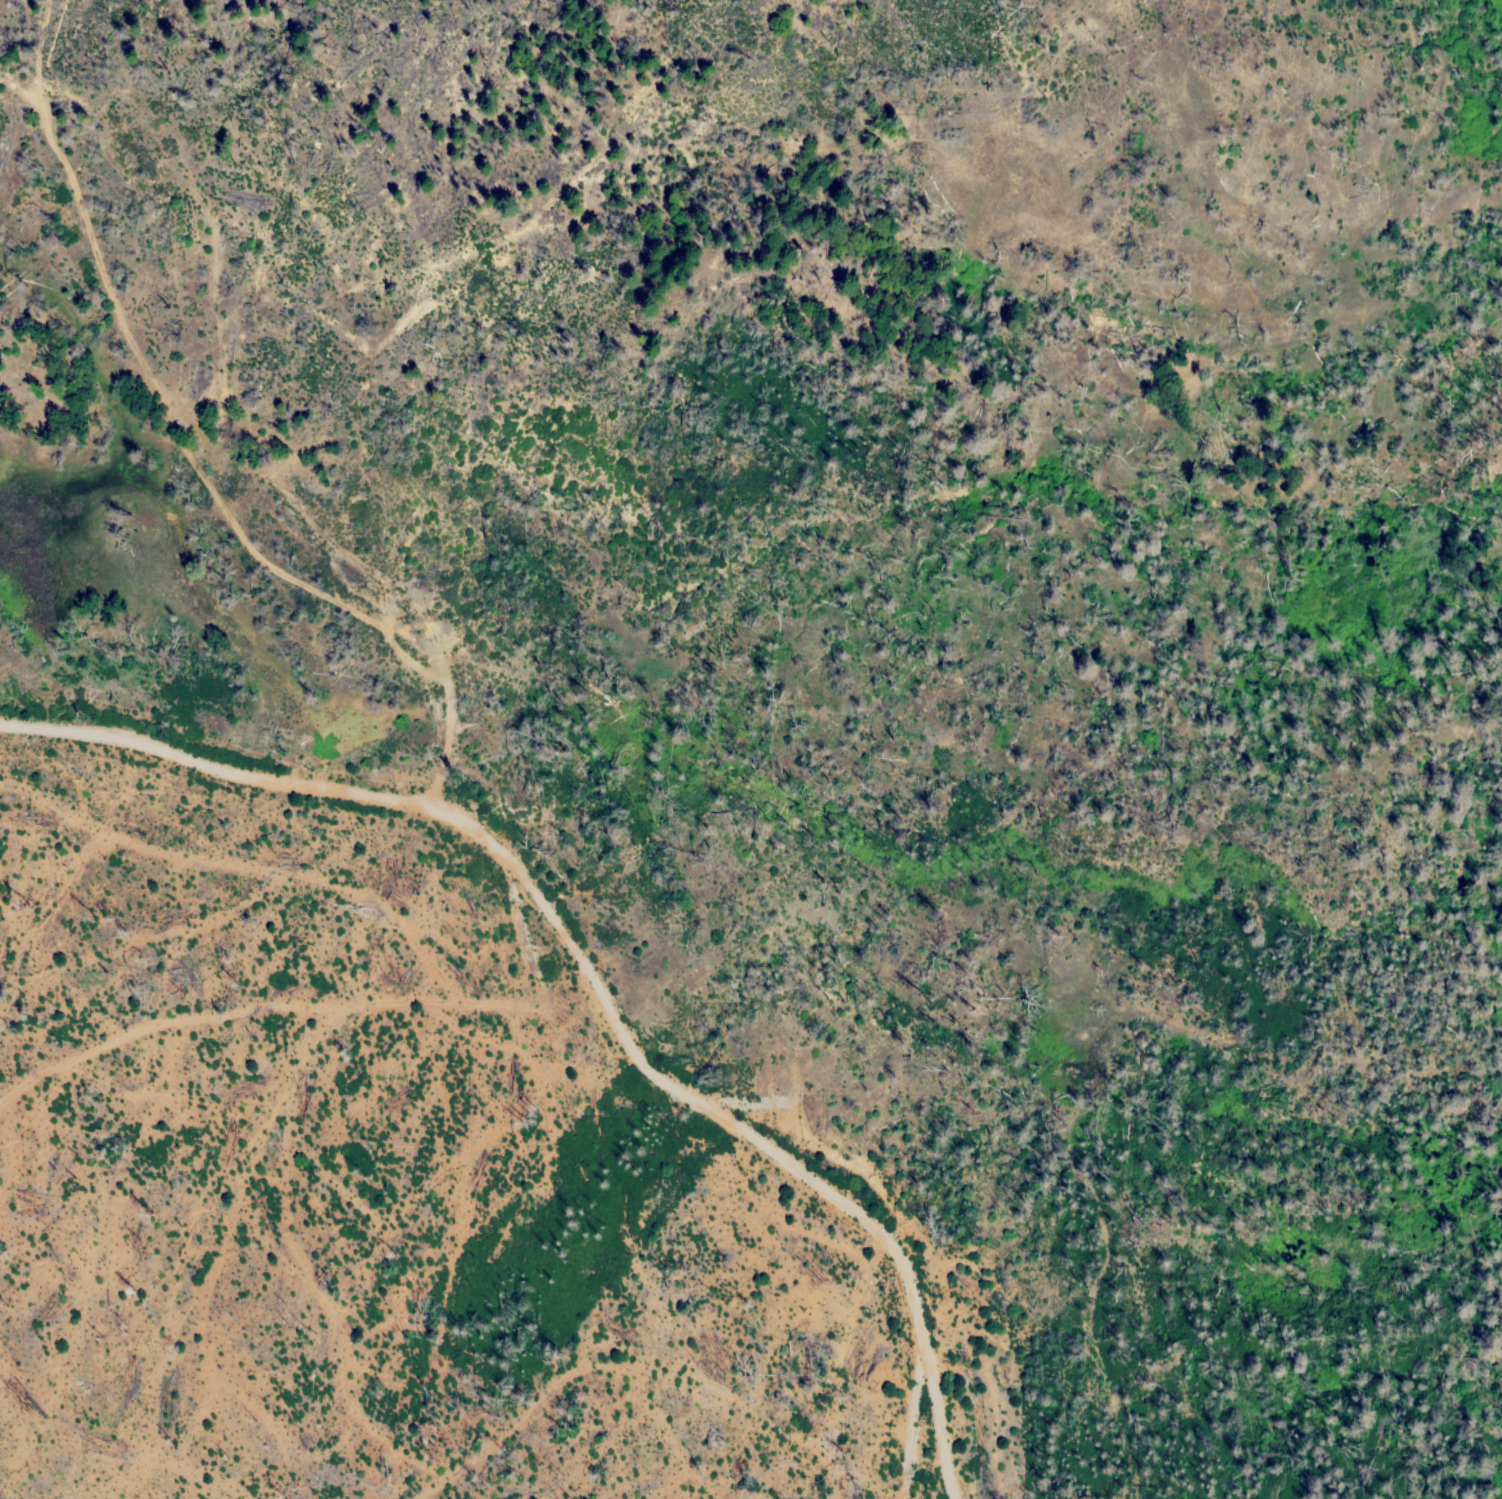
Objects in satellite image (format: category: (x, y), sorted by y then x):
road: (46, 6)
road: (183, 447)
road: (213, 767)
road: (734, 1126)

